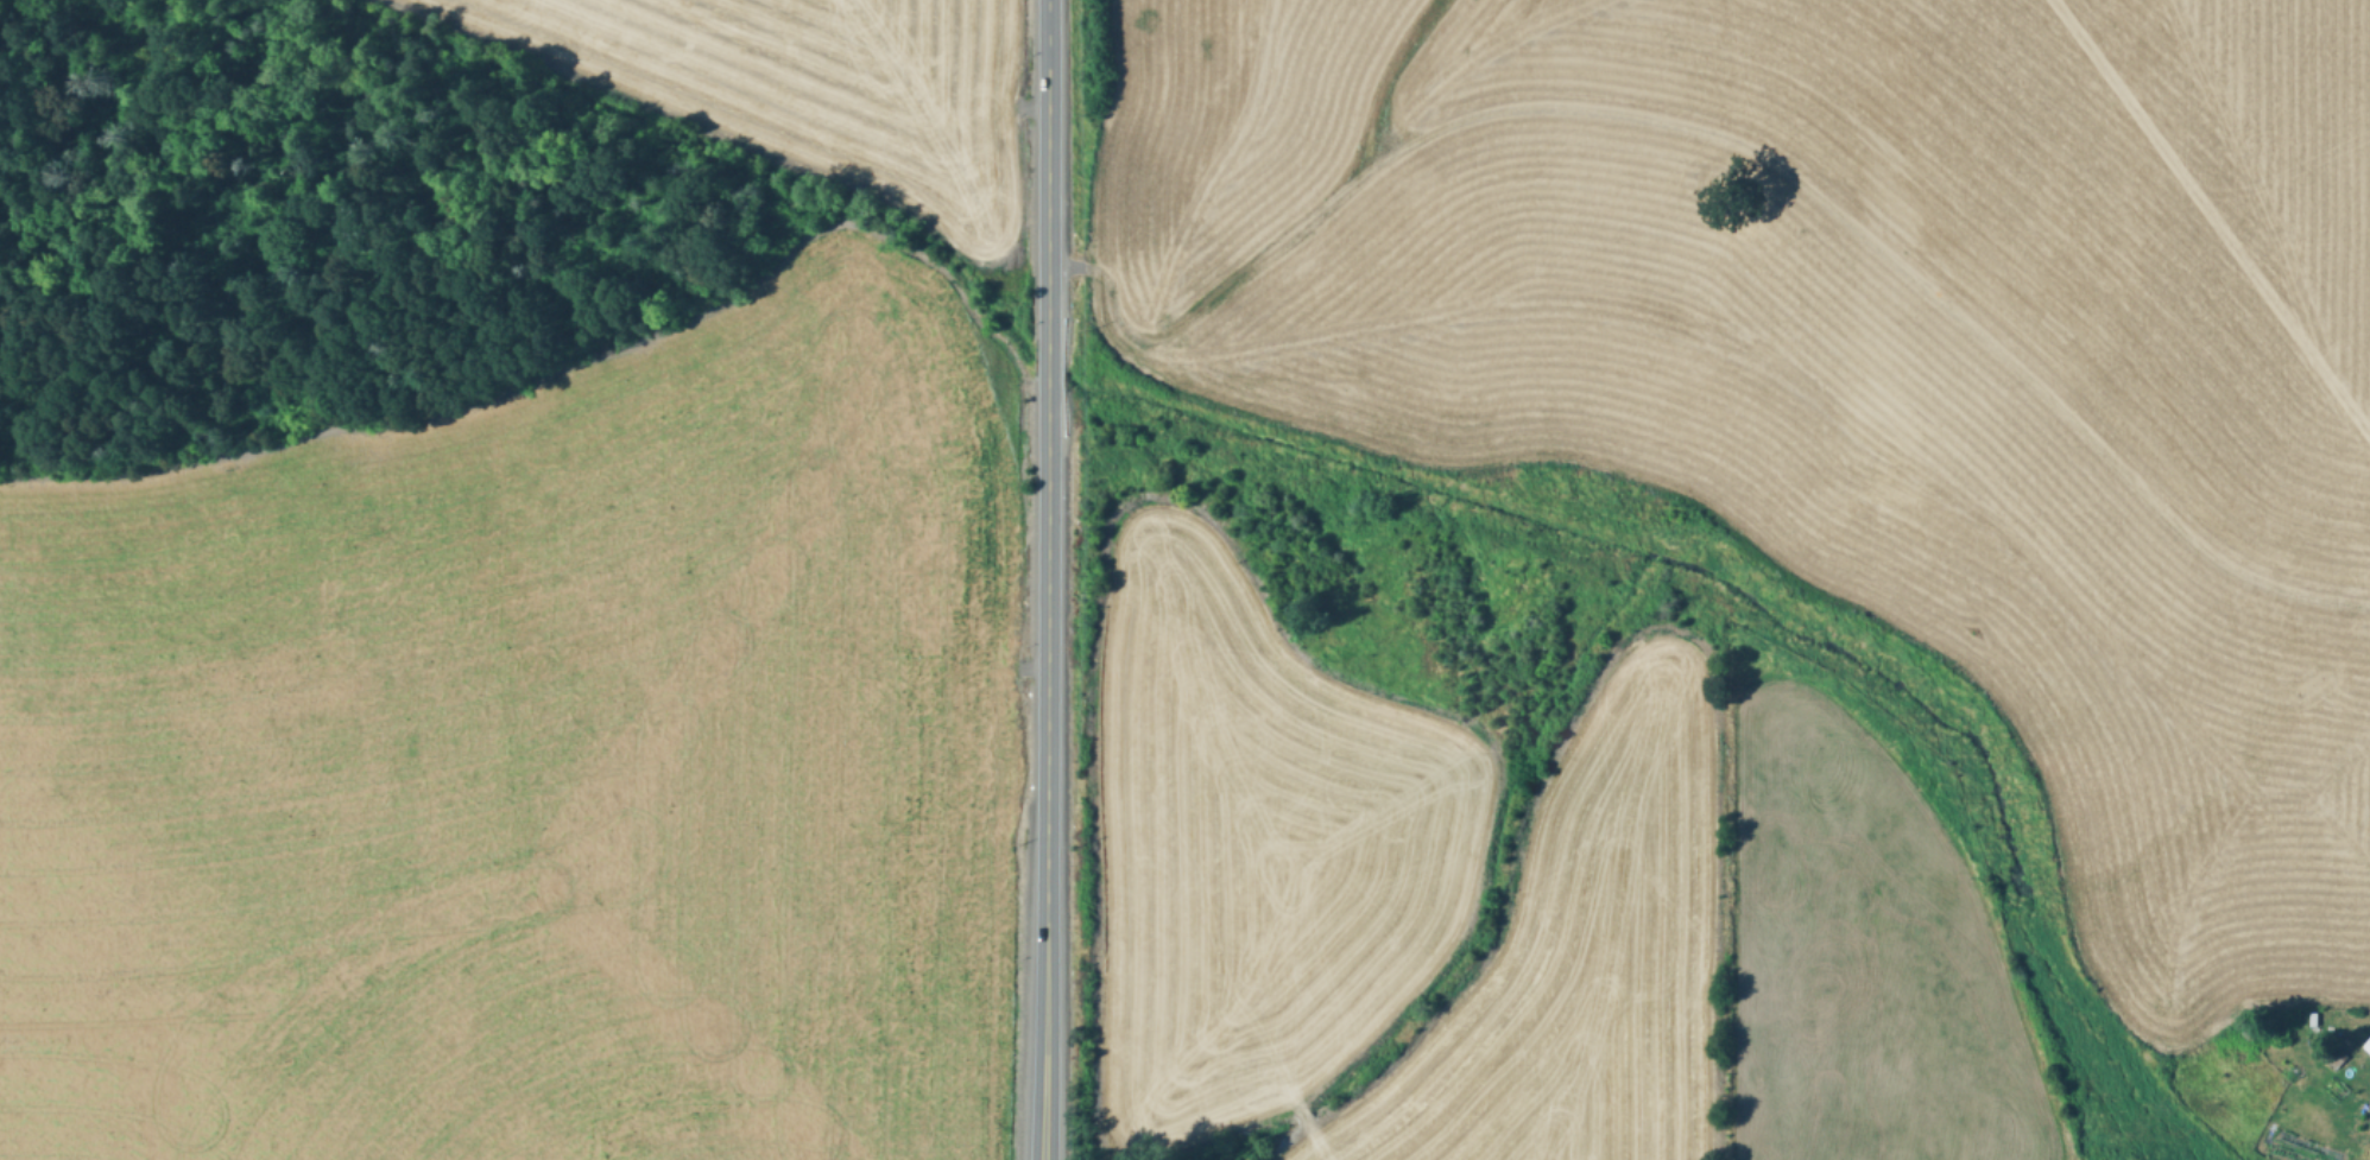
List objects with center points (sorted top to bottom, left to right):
crop: (857, 78)
crop: (1858, 357)
road: (1048, 579)
crop: (527, 762)
building: (2369, 1045)

